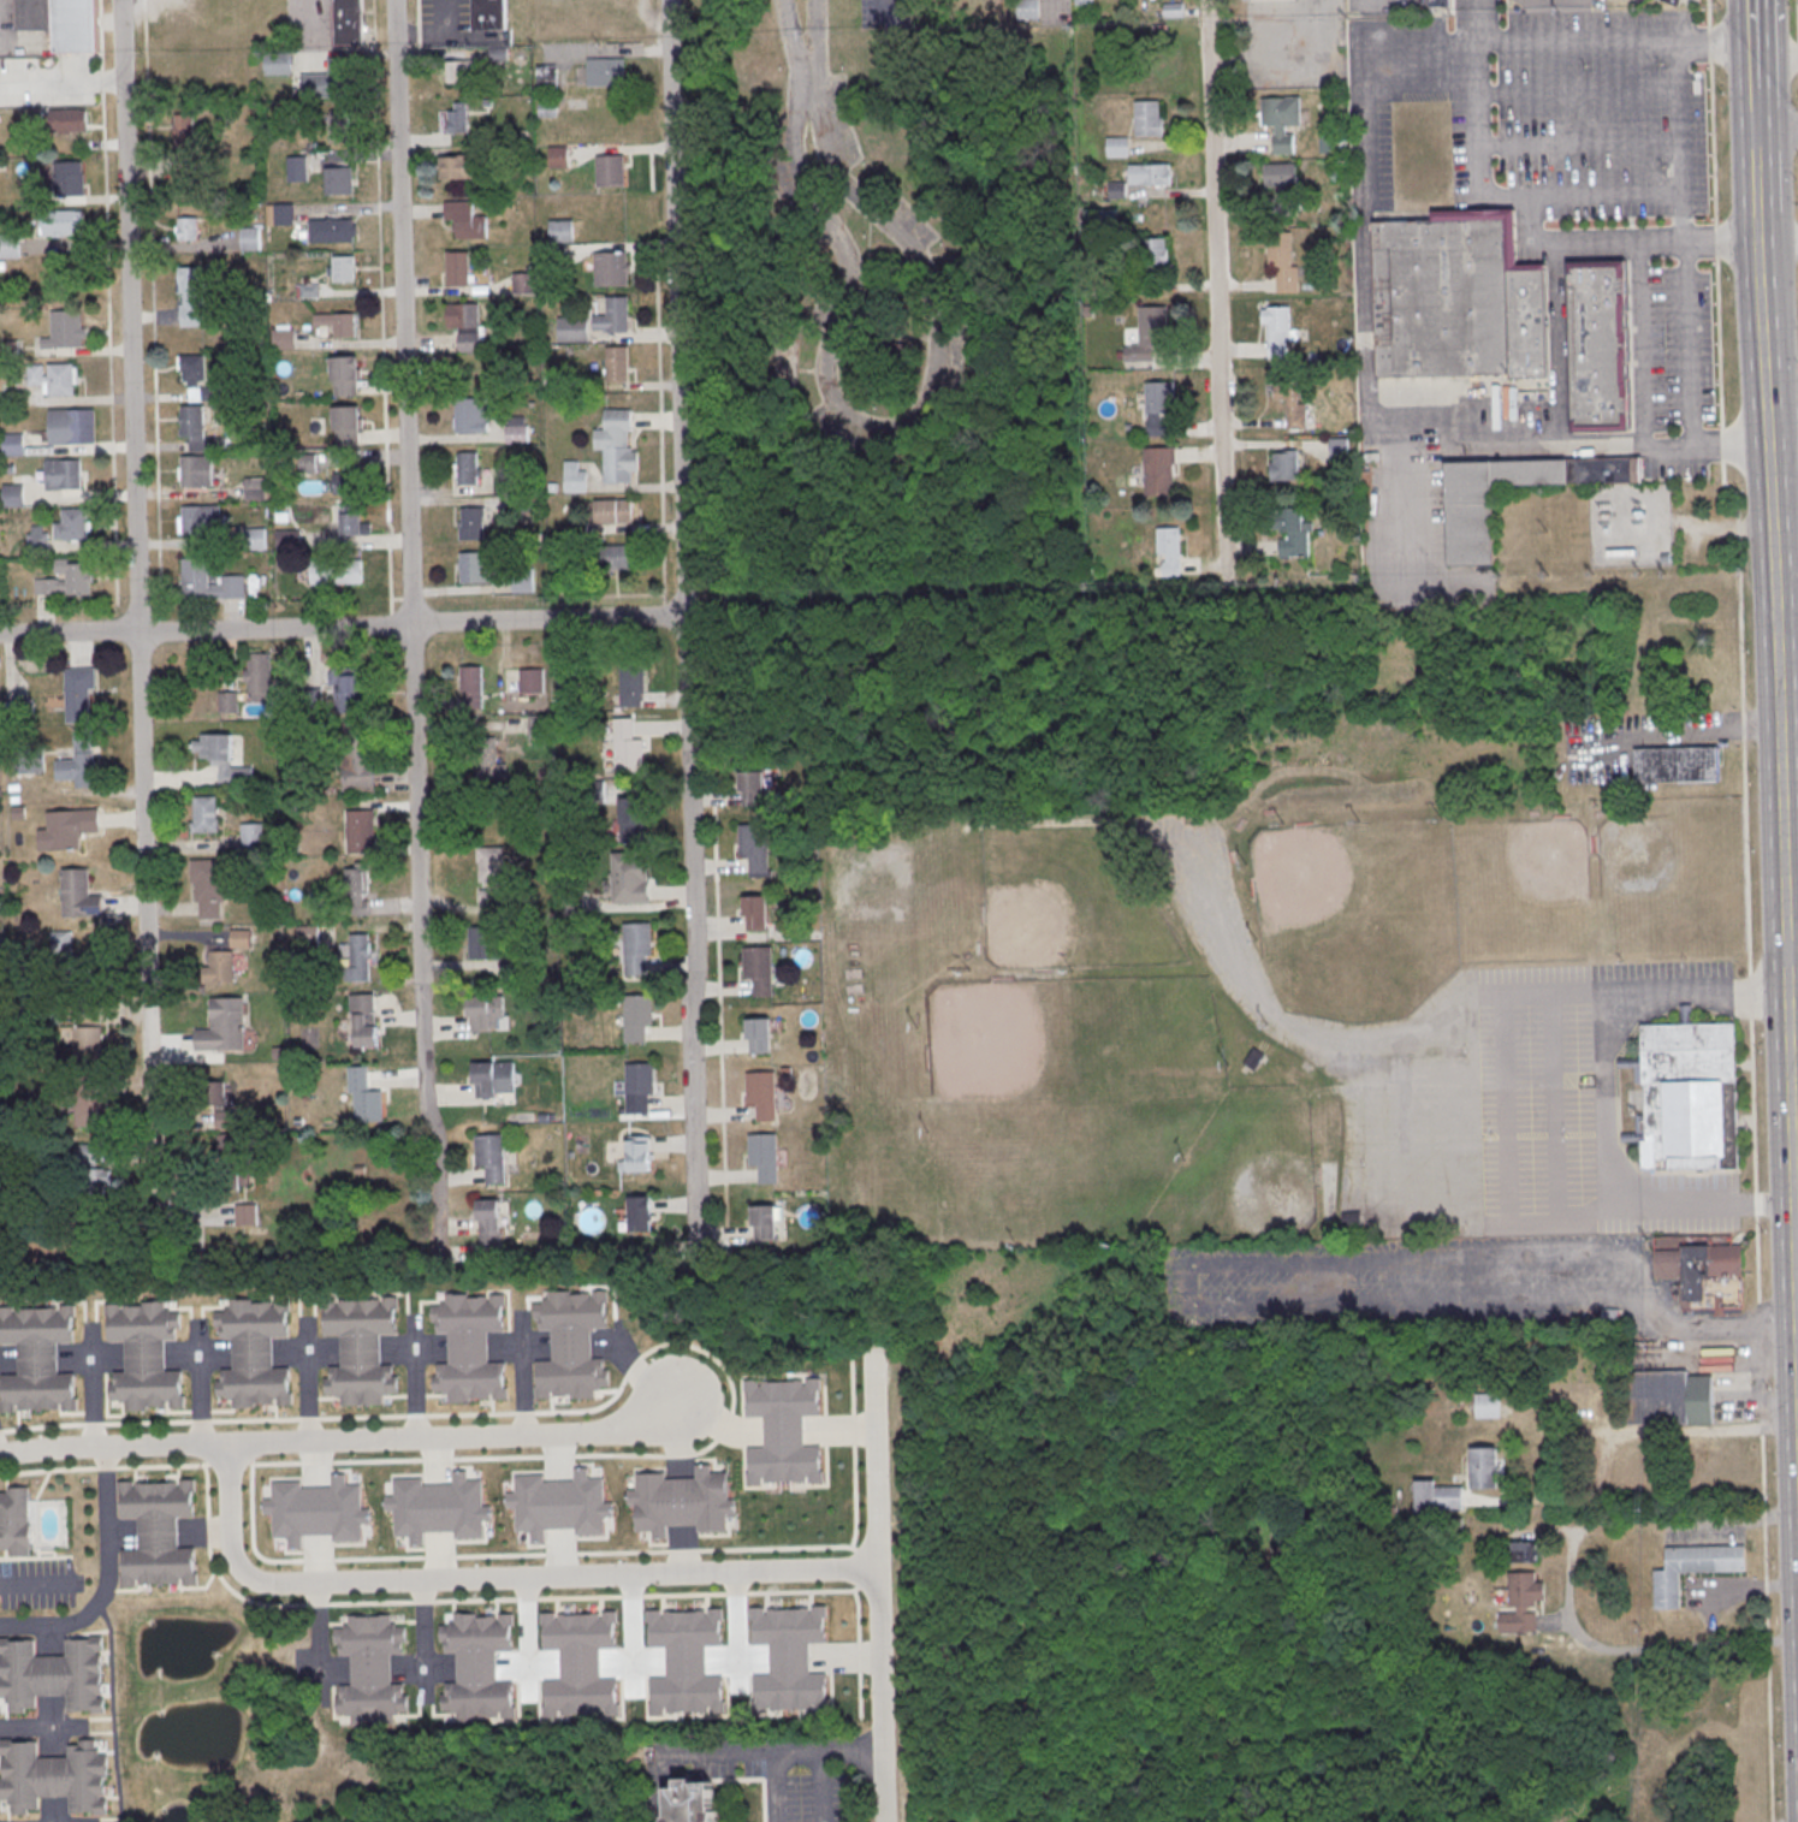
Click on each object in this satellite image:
road: (1054, 1)
building: (1672, 1)
building: (1082, 2)
building: (1441, 2)
road: (884, 7)
road: (318, 10)
building: (1028, 10)
road: (1709, 13)
building: (489, 14)
parking lot: (885, 14)
road: (1484, 19)
building: (350, 22)
road: (1755, 22)
building: (64, 23)
road: (438, 32)
road: (1494, 40)
road: (1711, 44)
road: (1756, 51)
road: (1776, 58)
building: (278, 63)
building: (462, 71)
building: (607, 72)
road: (807, 72)
road: (1756, 73)
building: (546, 77)
building: (319, 84)
road: (1757, 97)
parking lot: (1602, 115)
building: (457, 118)
building: (1149, 119)
road: (1758, 119)
building: (69, 120)
building: (1282, 121)
building: (338, 126)
road: (1778, 130)
building: (186, 131)
road: (1679, 143)
road: (1714, 143)
building: (1328, 144)
building: (1117, 148)
building: (558, 158)
building: (453, 165)
building: (297, 170)
road: (1760, 170)
building: (611, 171)
building: (1151, 174)
building: (67, 179)
building: (339, 182)
building: (1281, 186)
building: (1117, 190)
building: (283, 215)
building: (467, 220)
building: (64, 222)
building: (186, 229)
building: (332, 231)
building: (562, 231)
building: (253, 241)
road: (1716, 241)
road: (1646, 244)
road: (1780, 244)
building: (10, 247)
building: (556, 256)
building: (1282, 261)
building: (1152, 266)
building: (344, 269)
building: (458, 269)
building: (612, 269)
building: (524, 283)
road: (1218, 289)
building: (191, 296)
building: (1459, 298)
road: (153, 302)
road: (108, 303)
road: (382, 307)
building: (615, 316)
building: (337, 324)
building: (467, 325)
building: (574, 330)
building: (1276, 330)
building: (65, 331)
building: (1149, 333)
building: (284, 340)
road: (1720, 343)
building: (1598, 345)
road: (1692, 345)
building: (618, 364)
building: (191, 369)
building: (345, 375)
building: (61, 380)
road: (1370, 386)
building: (1289, 398)
building: (1158, 406)
road: (1640, 409)
building: (471, 415)
building: (346, 423)
building: (71, 425)
road: (891, 425)
building: (200, 432)
building: (517, 433)
road: (1722, 444)
road: (1784, 444)
building: (14, 445)
building: (617, 446)
building: (1339, 449)
building: (1284, 467)
building: (468, 468)
building: (196, 470)
building: (1159, 471)
building: (64, 474)
building: (344, 481)
building: (576, 482)
building: (257, 488)
building: (14, 497)
building: (615, 511)
building: (202, 518)
building: (350, 522)
building: (73, 524)
building: (473, 524)
building: (1470, 524)
power substation: (1630, 526)
building: (577, 532)
building: (1292, 533)
building: (254, 538)
building: (289, 540)
building: (38, 544)
building: (1169, 552)
building: (612, 557)
building: (477, 566)
building: (337, 572)
building: (67, 580)
building: (523, 580)
building: (196, 581)
road: (1740, 582)
road: (138, 606)
road: (343, 627)
road: (687, 630)
road: (410, 631)
road: (1787, 664)
building: (259, 671)
building: (532, 682)
building: (631, 683)
building: (471, 686)
building: (566, 687)
building: (349, 692)
building: (78, 694)
building: (227, 701)
building: (23, 711)
building: (0, 717)
road: (1744, 724)
building: (540, 726)
road: (1680, 735)
building: (629, 747)
building: (220, 756)
building: (487, 760)
building: (29, 761)
building: (78, 761)
building: (1678, 764)
building: (358, 770)
building: (753, 787)
building: (594, 793)
building: (19, 813)
building: (206, 815)
road: (1781, 818)
building: (634, 820)
building: (67, 829)
building: (361, 831)
building: (253, 837)
building: (755, 847)
road: (1747, 856)
building: (493, 876)
building: (630, 879)
building: (209, 885)
building: (356, 889)
building: (79, 894)
building: (574, 903)
building: (521, 908)
building: (756, 913)
building: (485, 943)
building: (637, 948)
road: (1792, 956)
building: (71, 960)
building: (356, 960)
building: (219, 966)
building: (528, 968)
building: (759, 969)
road: (1751, 997)
road: (720, 1002)
building: (85, 1008)
building: (485, 1011)
building: (637, 1017)
building: (363, 1020)
building: (225, 1026)
building: (760, 1035)
road: (1792, 1037)
building: (88, 1043)
building: (494, 1079)
building: (85, 1085)
building: (640, 1087)
building: (214, 1093)
building: (762, 1094)
building: (364, 1096)
building: (1690, 1097)
road: (1614, 1098)
road: (1754, 1106)
parking lot: (1527, 1108)
building: (90, 1110)
road: (1503, 1110)
road: (1551, 1110)
building: (225, 1118)
road: (1348, 1120)
building: (639, 1153)
building: (85, 1155)
building: (491, 1157)
building: (765, 1157)
building: (226, 1162)
building: (94, 1181)
road: (1794, 1181)
road: (1757, 1205)
building: (245, 1213)
building: (640, 1213)
building: (765, 1222)
building: (489, 1224)
road: (1758, 1262)
road: (1191, 1269)
building: (1705, 1275)
parking lot: (1434, 1287)
road: (1711, 1322)
road: (1760, 1322)
building: (571, 1346)
building: (470, 1348)
building: (361, 1349)
road: (649, 1352)
building: (254, 1354)
building: (146, 1357)
building: (38, 1359)
road: (1761, 1379)
road: (416, 1382)
road: (311, 1387)
building: (1669, 1399)
building: (1488, 1406)
road: (1763, 1428)
building: (785, 1431)
road: (351, 1440)
road: (1612, 1441)
building: (1484, 1467)
road: (1764, 1473)
building: (1437, 1497)
building: (683, 1502)
building: (559, 1505)
building: (439, 1508)
building: (318, 1512)
road: (1766, 1518)
building: (14, 1521)
road: (1739, 1523)
building: (159, 1532)
building: (1519, 1553)
road: (580, 1554)
building: (1693, 1567)
road: (106, 1578)
road: (492, 1578)
road: (40, 1583)
road: (878, 1586)
road: (373, 1603)
building: (1523, 1603)
road: (631, 1636)
road: (318, 1637)
road: (526, 1638)
road: (738, 1638)
road: (423, 1643)
road: (1638, 1650)
building: (791, 1658)
building: (687, 1662)
building: (581, 1664)
building: (479, 1667)
building: (370, 1669)
road: (1769, 1674)
building: (52, 1675)
road: (41, 1726)
road: (740, 1752)
building: (53, 1778)
road: (776, 1786)
parking lot: (808, 1798)
building: (693, 1803)

